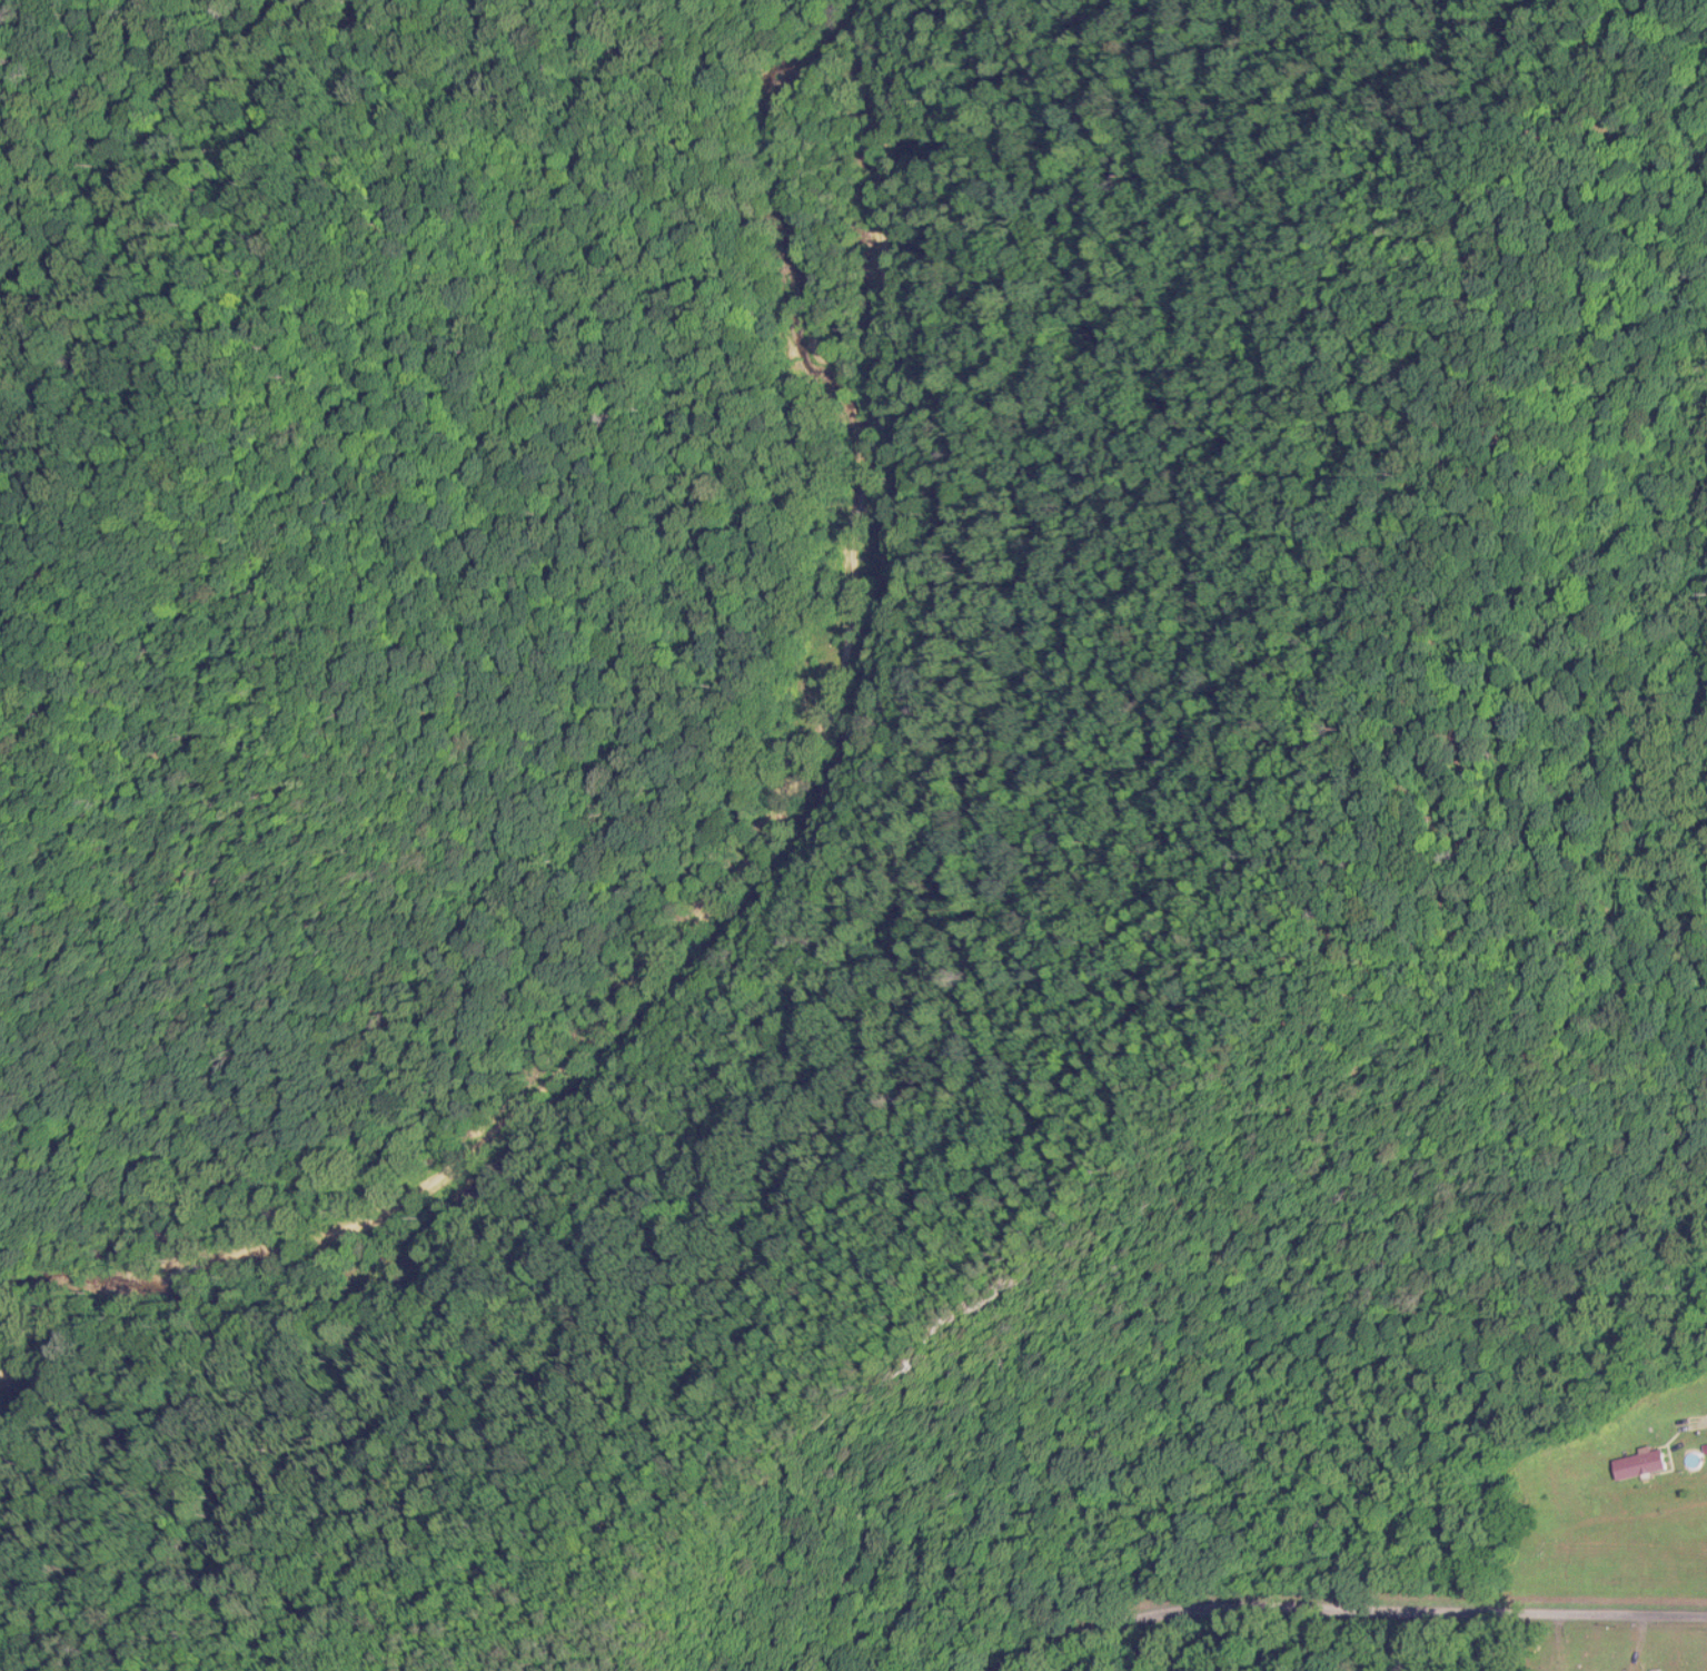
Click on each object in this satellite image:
road: (728, 870)
building: (1676, 1425)
building: (1634, 1463)
road: (1351, 1606)

